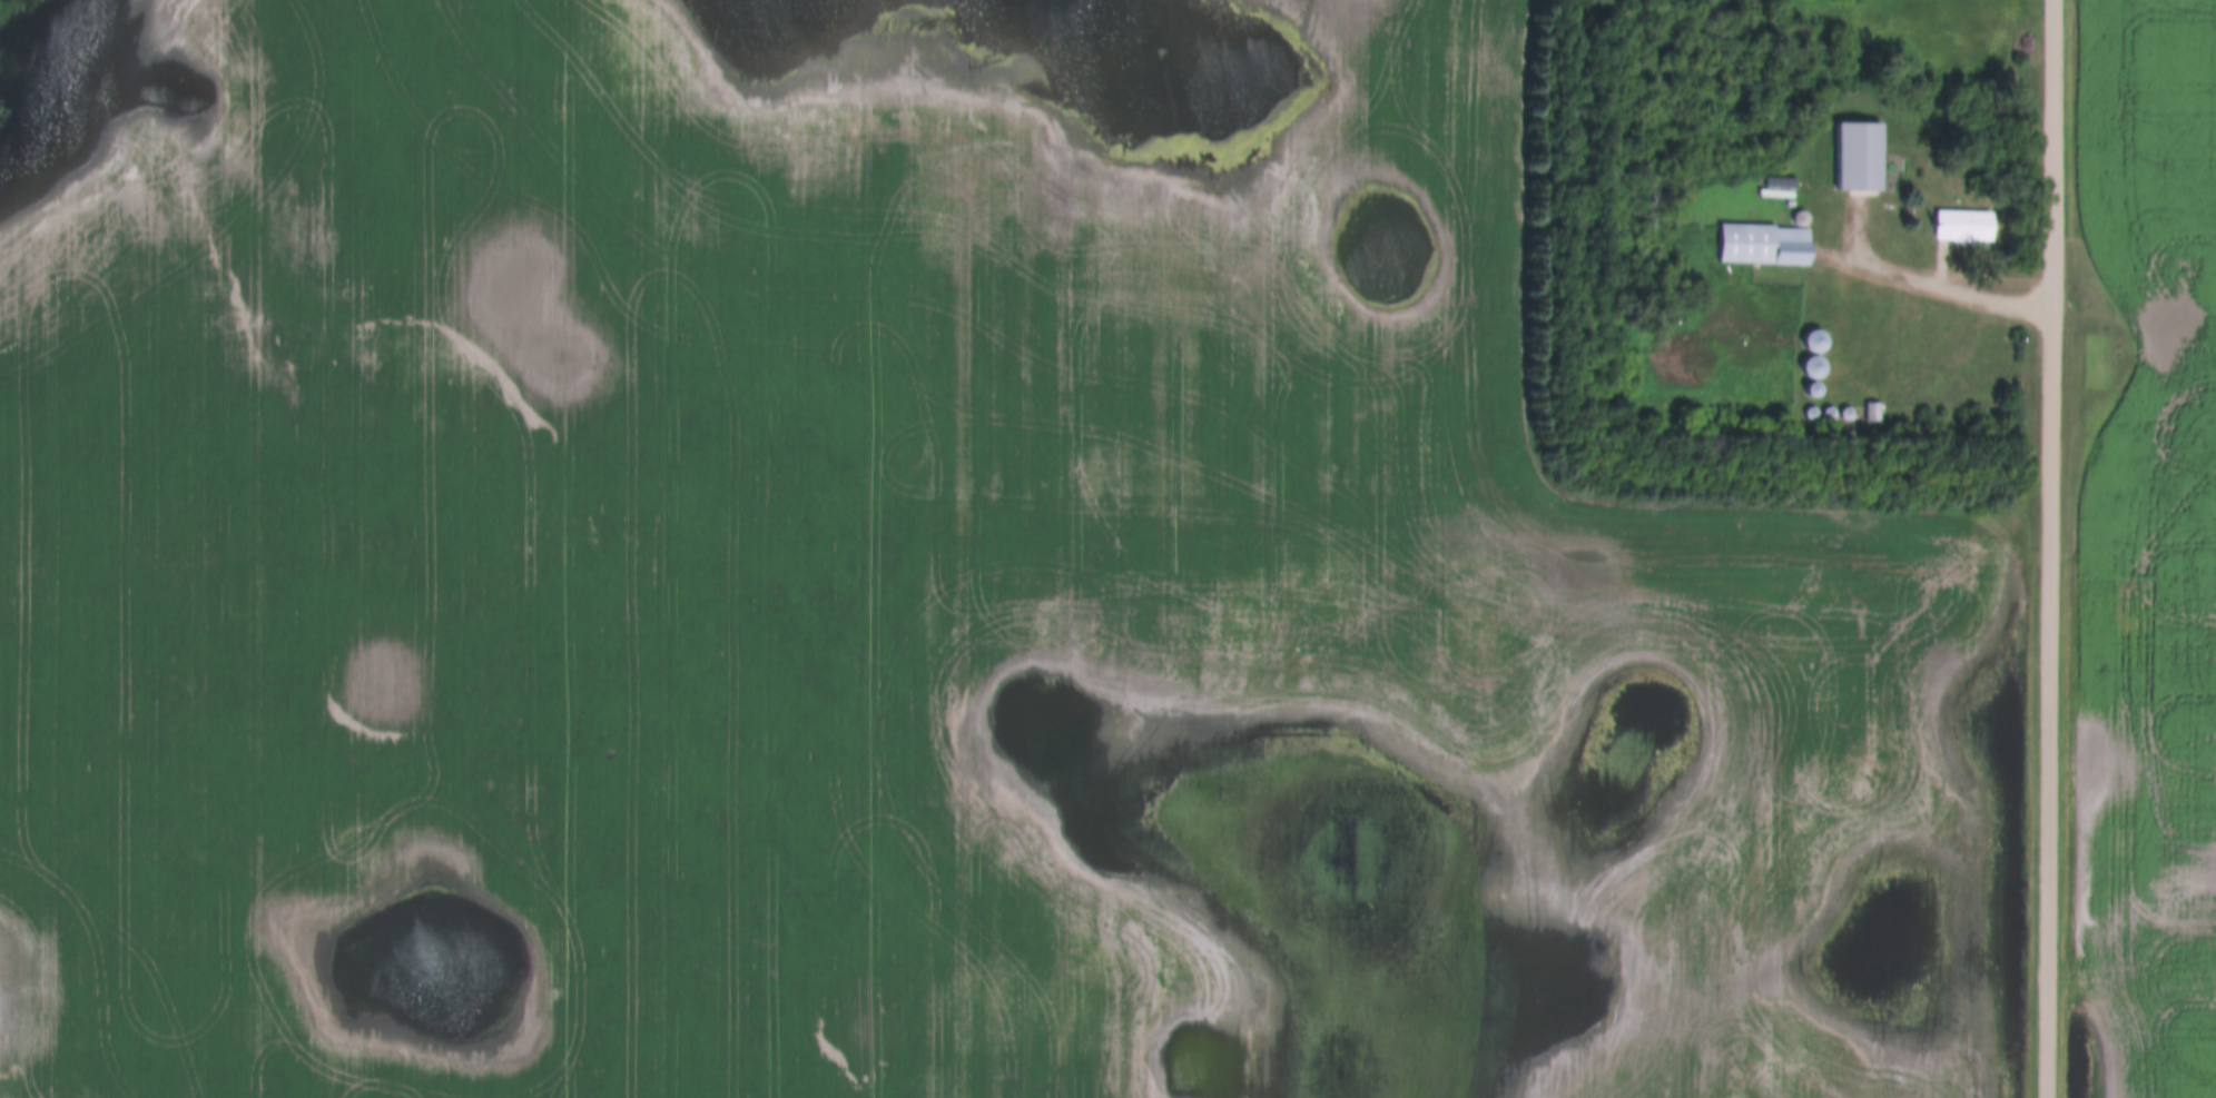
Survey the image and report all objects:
building: (1858, 160)
building: (1961, 228)
building: (1762, 247)
road: (1933, 286)
road: (2047, 548)

